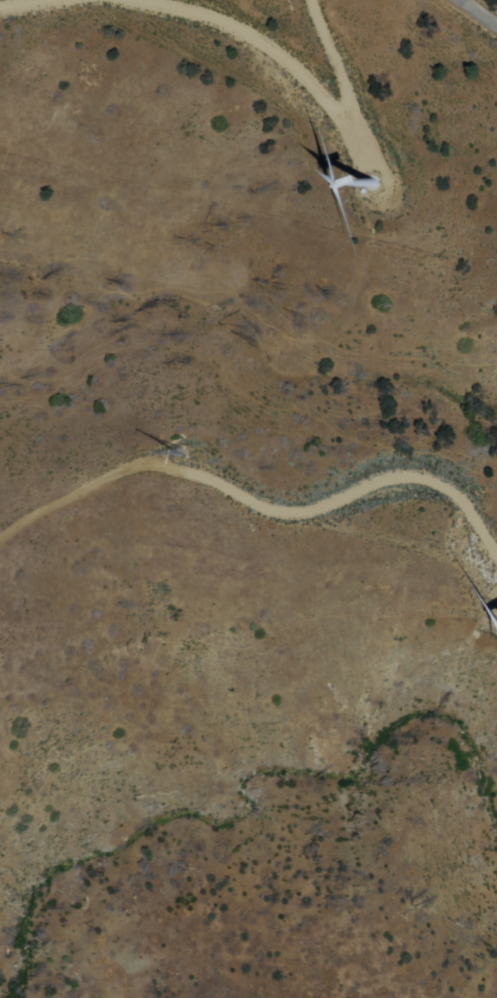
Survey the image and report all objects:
road: (481, 12)
wind turbine: (379, 181)
road: (244, 489)

